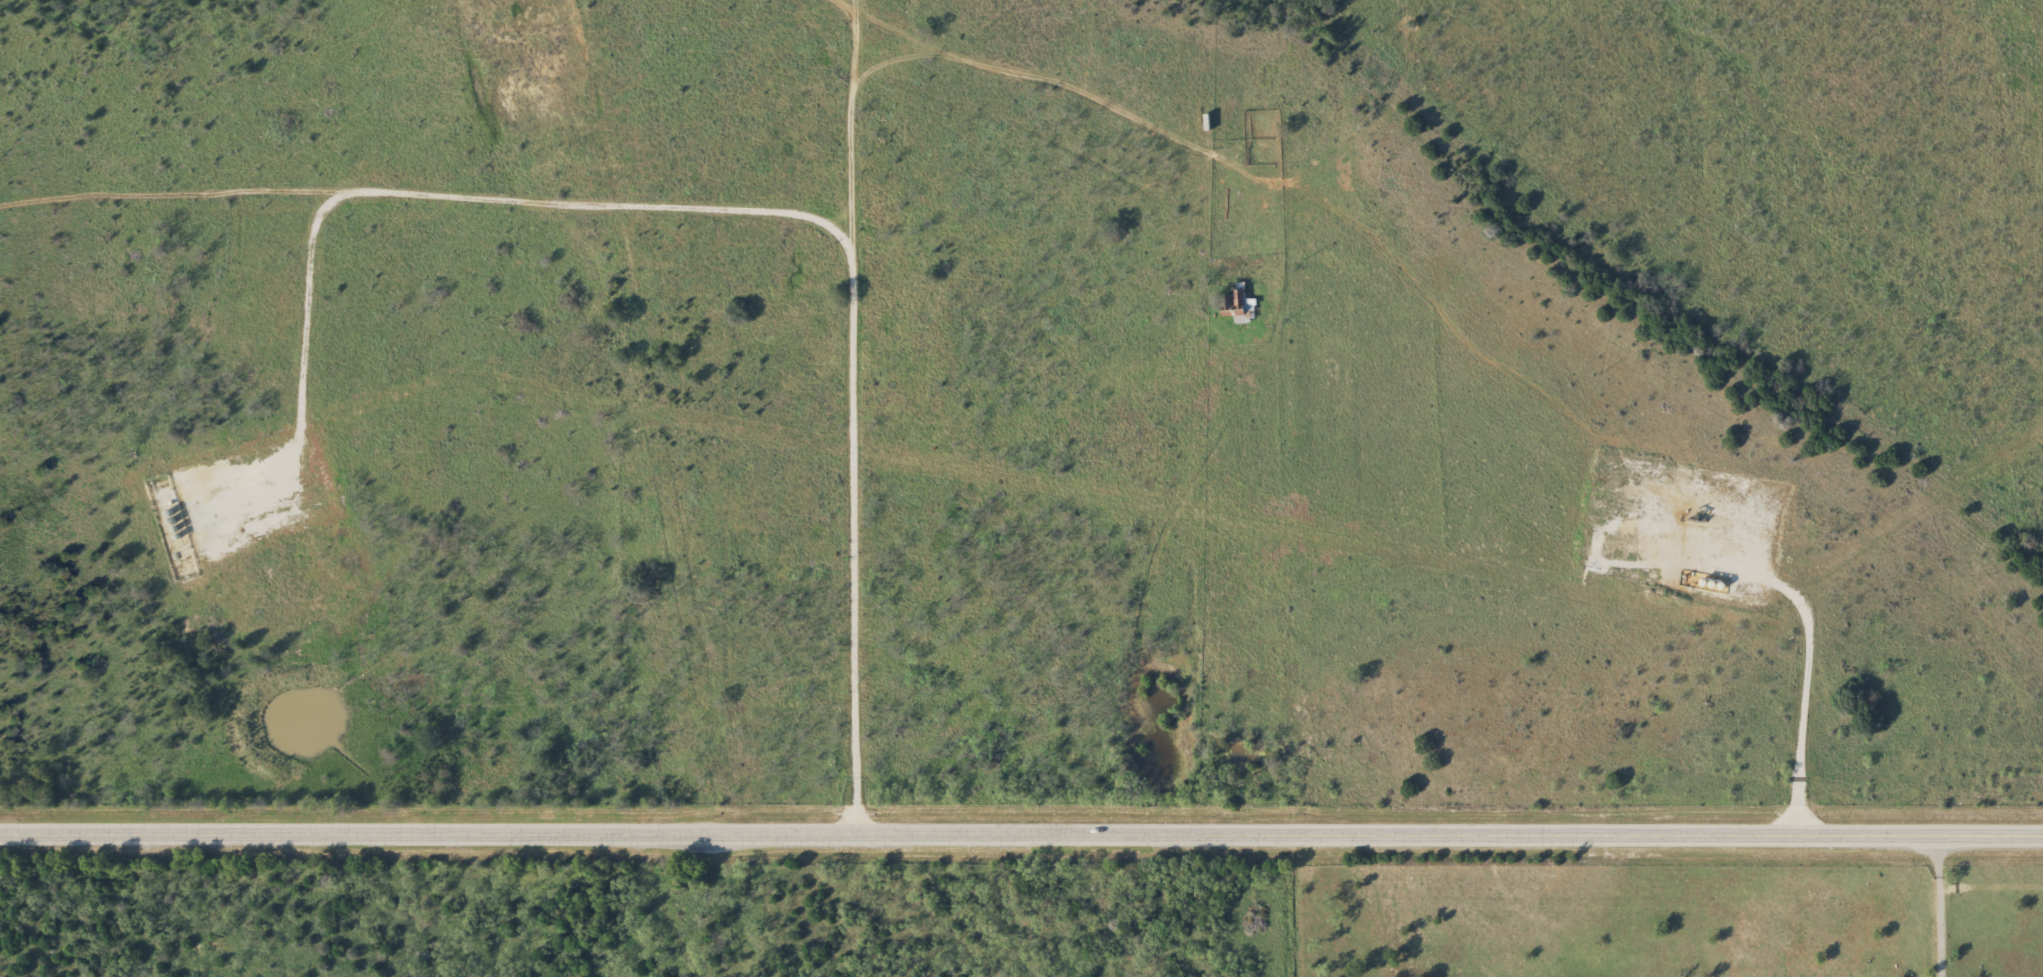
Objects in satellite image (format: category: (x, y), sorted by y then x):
road: (897, 61)
road: (1112, 104)
road: (848, 126)
road: (721, 210)
building: (1235, 308)
road: (1021, 832)
road: (1936, 902)
road: (659, 905)

